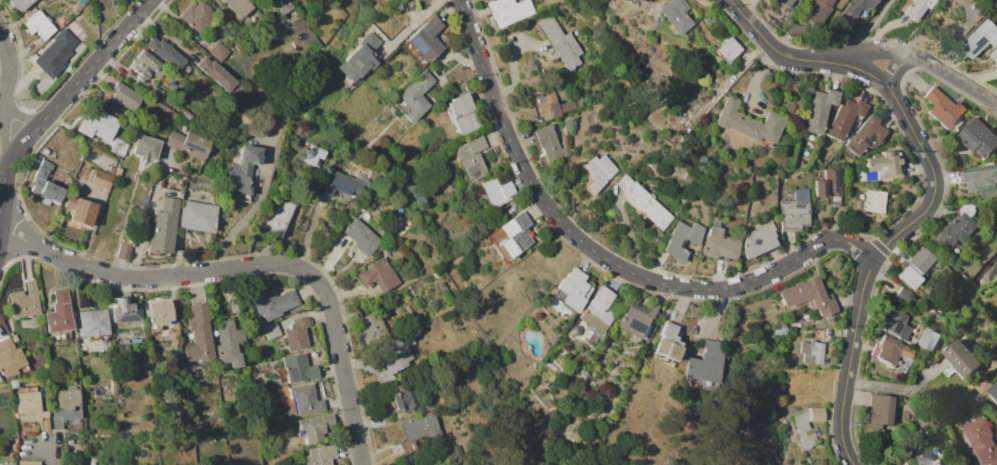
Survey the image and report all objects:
building: (632, 0)
building: (639, 0)
building: (796, 0)
building: (82, 1)
building: (783, 2)
building: (21, 4)
building: (398, 5)
building: (239, 6)
building: (281, 6)
building: (857, 6)
building: (918, 8)
building: (508, 11)
building: (817, 11)
building: (197, 15)
building: (677, 15)
road: (464, 18)
building: (41, 25)
road: (867, 25)
road: (412, 27)
building: (792, 29)
road: (967, 36)
building: (980, 38)
building: (426, 40)
building: (560, 43)
road: (774, 43)
road: (900, 49)
building: (728, 50)
building: (219, 51)
building: (166, 52)
building: (55, 54)
building: (994, 55)
building: (358, 58)
building: (146, 65)
road: (898, 65)
road: (857, 68)
road: (483, 71)
building: (216, 73)
road: (67, 92)
building: (155, 93)
road: (3, 94)
road: (981, 95)
building: (126, 96)
building: (415, 96)
building: (553, 107)
building: (943, 108)
building: (818, 110)
building: (463, 114)
building: (187, 115)
building: (244, 117)
building: (845, 117)
building: (747, 122)
building: (99, 124)
road: (505, 130)
building: (866, 135)
building: (977, 137)
building: (189, 144)
building: (551, 145)
building: (118, 146)
building: (144, 147)
building: (46, 152)
building: (312, 154)
building: (471, 157)
building: (652, 164)
building: (884, 166)
building: (111, 169)
building: (242, 170)
building: (117, 172)
building: (597, 172)
building: (101, 179)
building: (687, 179)
building: (980, 179)
building: (833, 181)
building: (341, 183)
building: (46, 185)
building: (820, 188)
building: (497, 192)
building: (187, 194)
building: (875, 201)
road: (545, 204)
building: (647, 206)
building: (80, 211)
building: (794, 211)
road: (147, 216)
building: (198, 217)
building: (276, 218)
road: (241, 220)
building: (164, 226)
building: (958, 226)
building: (514, 235)
building: (361, 236)
building: (681, 240)
building: (758, 240)
building: (719, 244)
building: (983, 249)
building: (124, 251)
road: (872, 258)
building: (920, 259)
road: (251, 264)
road: (615, 264)
building: (961, 265)
building: (378, 274)
road: (764, 274)
building: (907, 277)
building: (572, 289)
building: (808, 295)
building: (903, 295)
building: (24, 301)
building: (275, 303)
building: (600, 306)
building: (409, 309)
building: (125, 310)
building: (59, 312)
building: (158, 312)
building: (634, 321)
building: (93, 322)
building: (371, 323)
building: (895, 323)
building: (272, 330)
building: (781, 330)
building: (829, 332)
building: (199, 334)
building: (297, 334)
building: (15, 338)
building: (927, 339)
building: (135, 341)
building: (592, 341)
building: (669, 341)
building: (230, 342)
building: (890, 348)
building: (812, 353)
building: (394, 357)
building: (10, 358)
building: (560, 358)
building: (962, 358)
building: (146, 362)
building: (704, 365)
building: (297, 368)
building: (147, 370)
building: (13, 384)
building: (993, 389)
building: (403, 397)
building: (304, 399)
building: (66, 407)
building: (32, 409)
building: (878, 409)
building: (808, 426)
building: (314, 427)
building: (420, 431)
building: (982, 441)
building: (69, 442)
road: (52, 455)
building: (453, 455)
building: (320, 456)
building: (924, 459)
park: (630, 460)
building: (29, 462)
building: (94, 463)
building: (1, 464)

